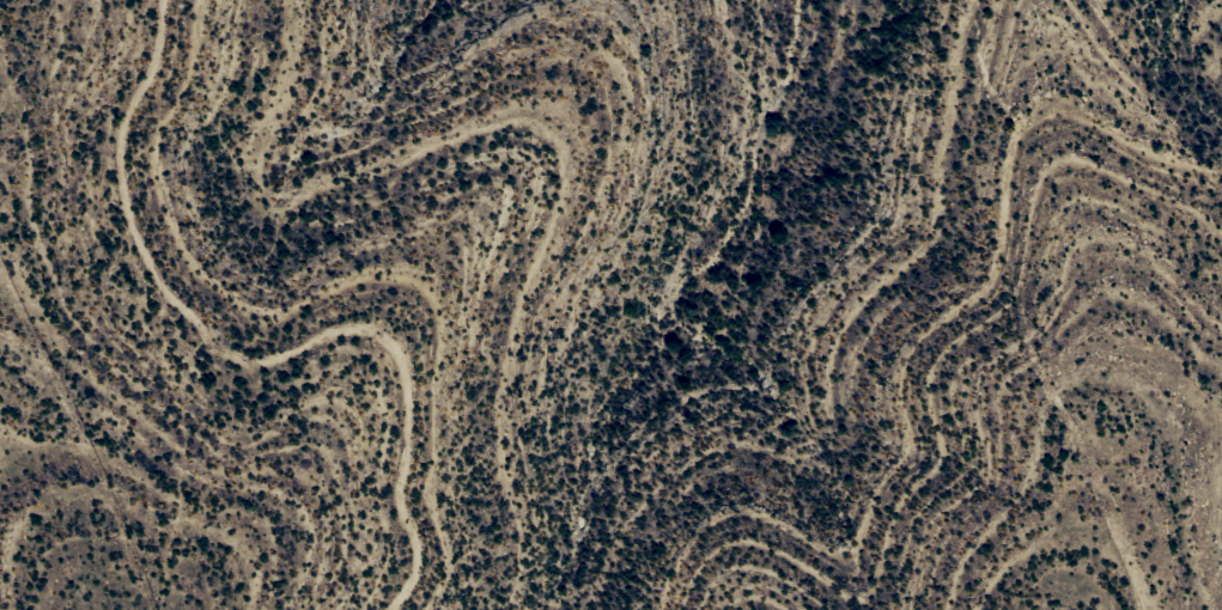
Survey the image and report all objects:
road: (36, 501)

